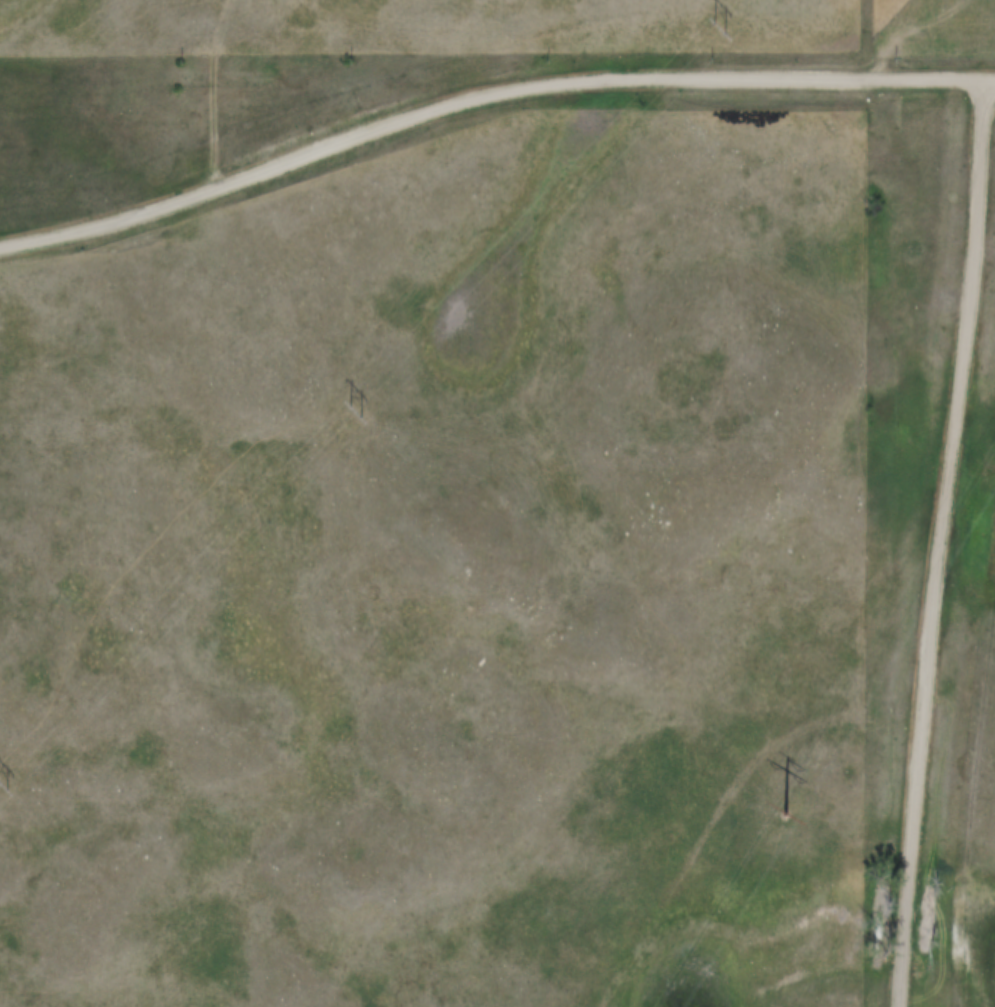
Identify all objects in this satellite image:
power tower: (718, 30)
road: (486, 94)
power tower: (353, 415)
road: (942, 542)
power tower: (787, 808)

